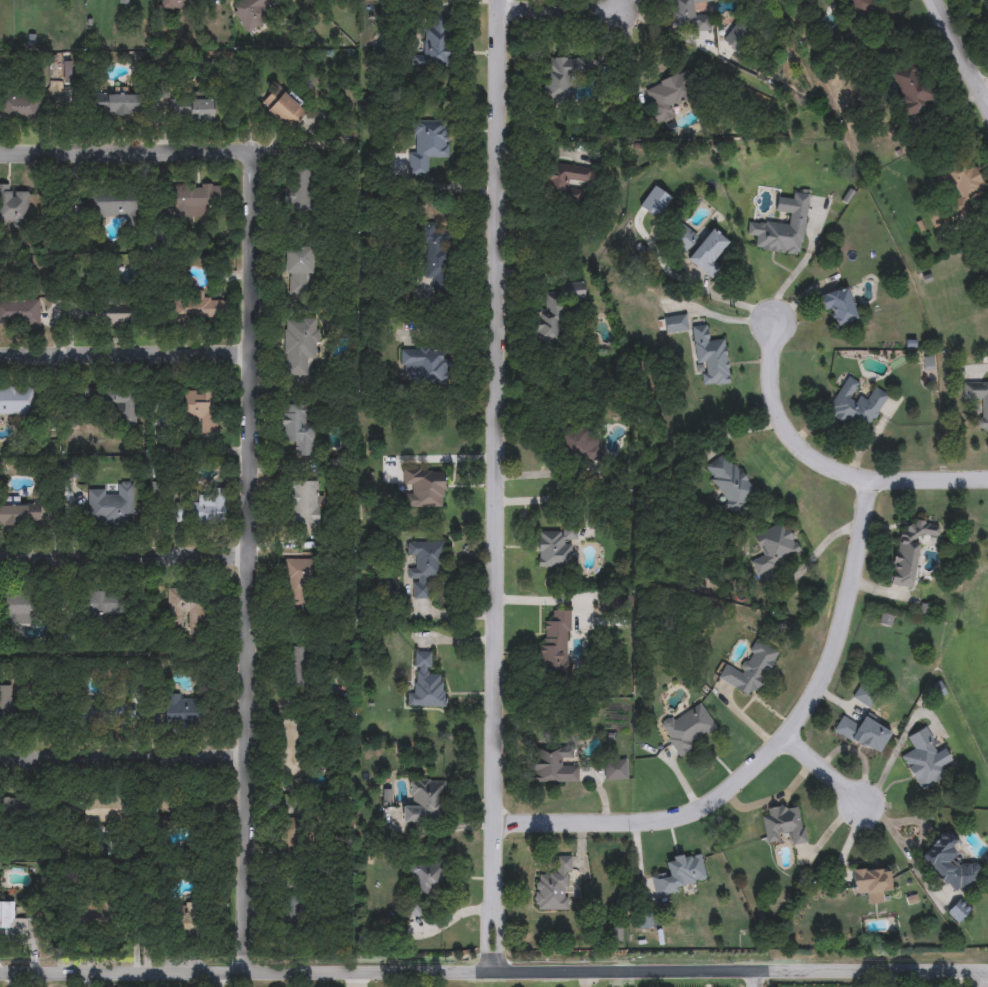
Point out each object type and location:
road: (561, 4)
building: (181, 5)
building: (253, 12)
building: (688, 15)
building: (736, 32)
building: (434, 46)
road: (961, 50)
building: (558, 79)
road: (986, 90)
building: (910, 91)
building: (664, 97)
building: (115, 104)
building: (18, 107)
building: (283, 107)
building: (177, 110)
building: (201, 111)
building: (426, 145)
building: (566, 184)
building: (963, 184)
building: (298, 193)
building: (195, 200)
building: (115, 205)
building: (13, 207)
building: (936, 218)
building: (784, 227)
building: (683, 238)
building: (435, 252)
building: (708, 253)
building: (987, 264)
building: (299, 271)
road: (796, 272)
building: (839, 305)
building: (194, 309)
building: (19, 313)
building: (554, 314)
building: (109, 315)
building: (676, 324)
building: (299, 345)
road: (124, 355)
building: (709, 358)
building: (422, 366)
building: (15, 401)
building: (115, 403)
building: (855, 405)
building: (199, 407)
building: (984, 416)
building: (296, 430)
road: (251, 439)
building: (579, 444)
road: (824, 467)
building: (729, 482)
road: (497, 486)
building: (424, 487)
building: (304, 504)
building: (111, 505)
building: (203, 509)
building: (20, 515)
building: (774, 546)
building: (554, 548)
building: (909, 551)
road: (128, 556)
building: (425, 565)
building: (298, 585)
building: (98, 604)
building: (186, 608)
building: (17, 610)
building: (555, 644)
building: (298, 666)
building: (749, 669)
building: (425, 684)
building: (863, 696)
building: (14, 709)
building: (184, 709)
building: (117, 710)
building: (688, 728)
building: (864, 733)
building: (290, 750)
road: (126, 751)
road: (769, 753)
building: (924, 760)
building: (552, 765)
road: (824, 769)
building: (615, 770)
building: (425, 802)
building: (18, 808)
building: (61, 810)
building: (103, 810)
building: (165, 812)
building: (205, 815)
building: (786, 823)
building: (293, 838)
building: (949, 865)
building: (680, 874)
building: (427, 880)
building: (871, 883)
building: (554, 887)
building: (959, 911)
building: (96, 912)
building: (291, 913)
building: (183, 919)
building: (11, 920)
road: (446, 920)
road: (494, 971)
road: (585, 978)
road: (356, 979)
road: (759, 979)
road: (10, 980)
road: (88, 980)
road: (219, 980)

